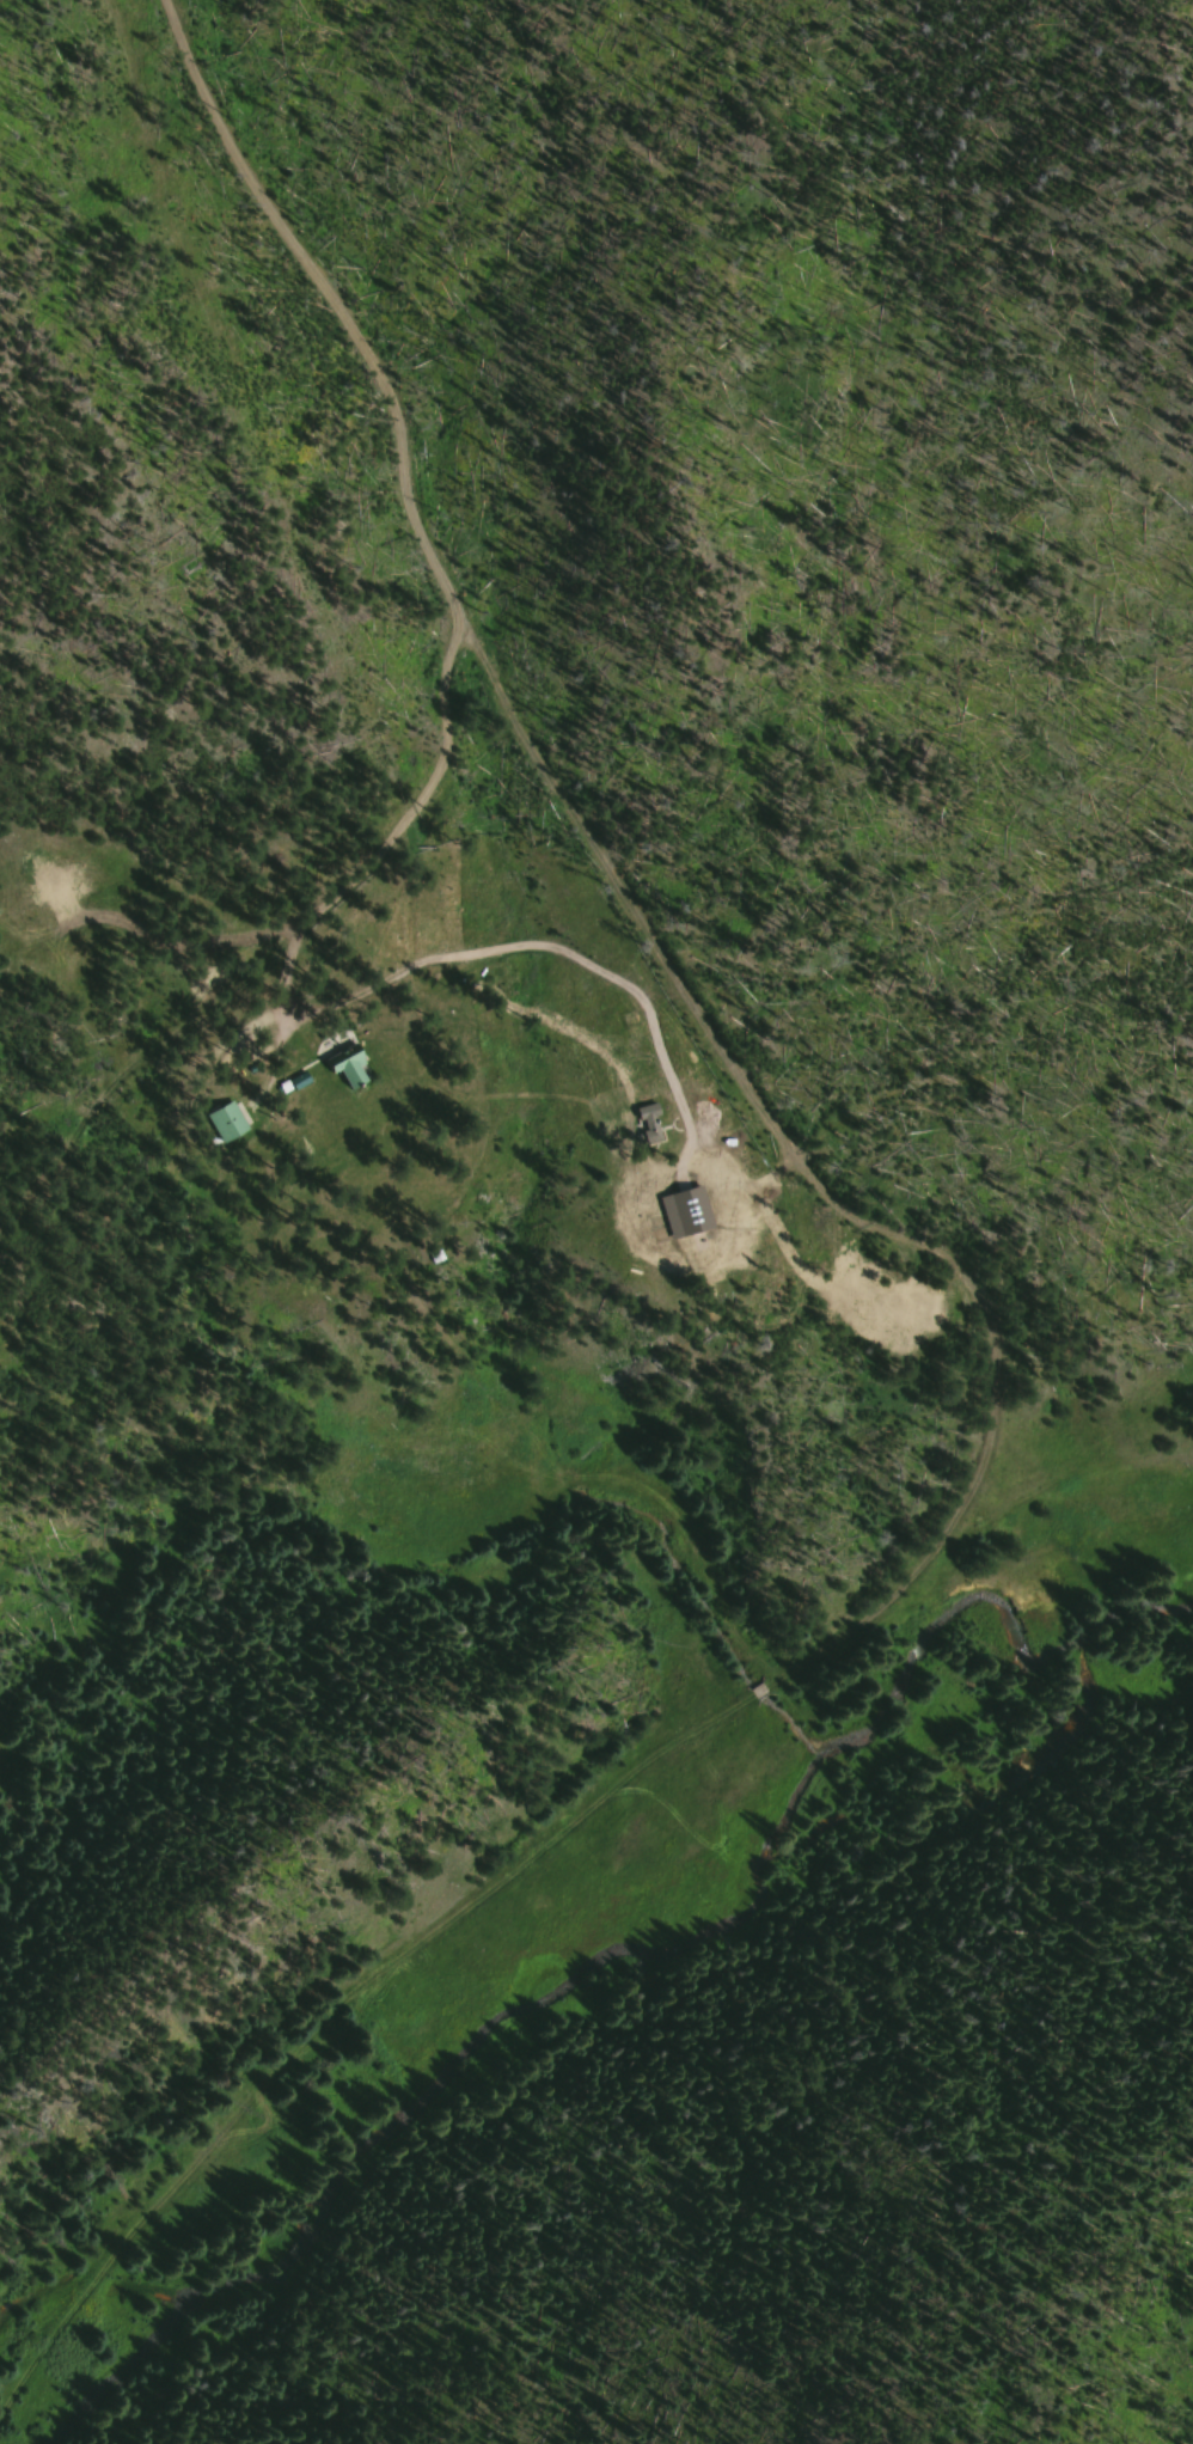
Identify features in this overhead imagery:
road: (323, 289)
road: (403, 821)
building: (345, 1065)
building: (225, 1122)
building: (647, 1124)
building: (699, 1244)
river: (634, 1948)

